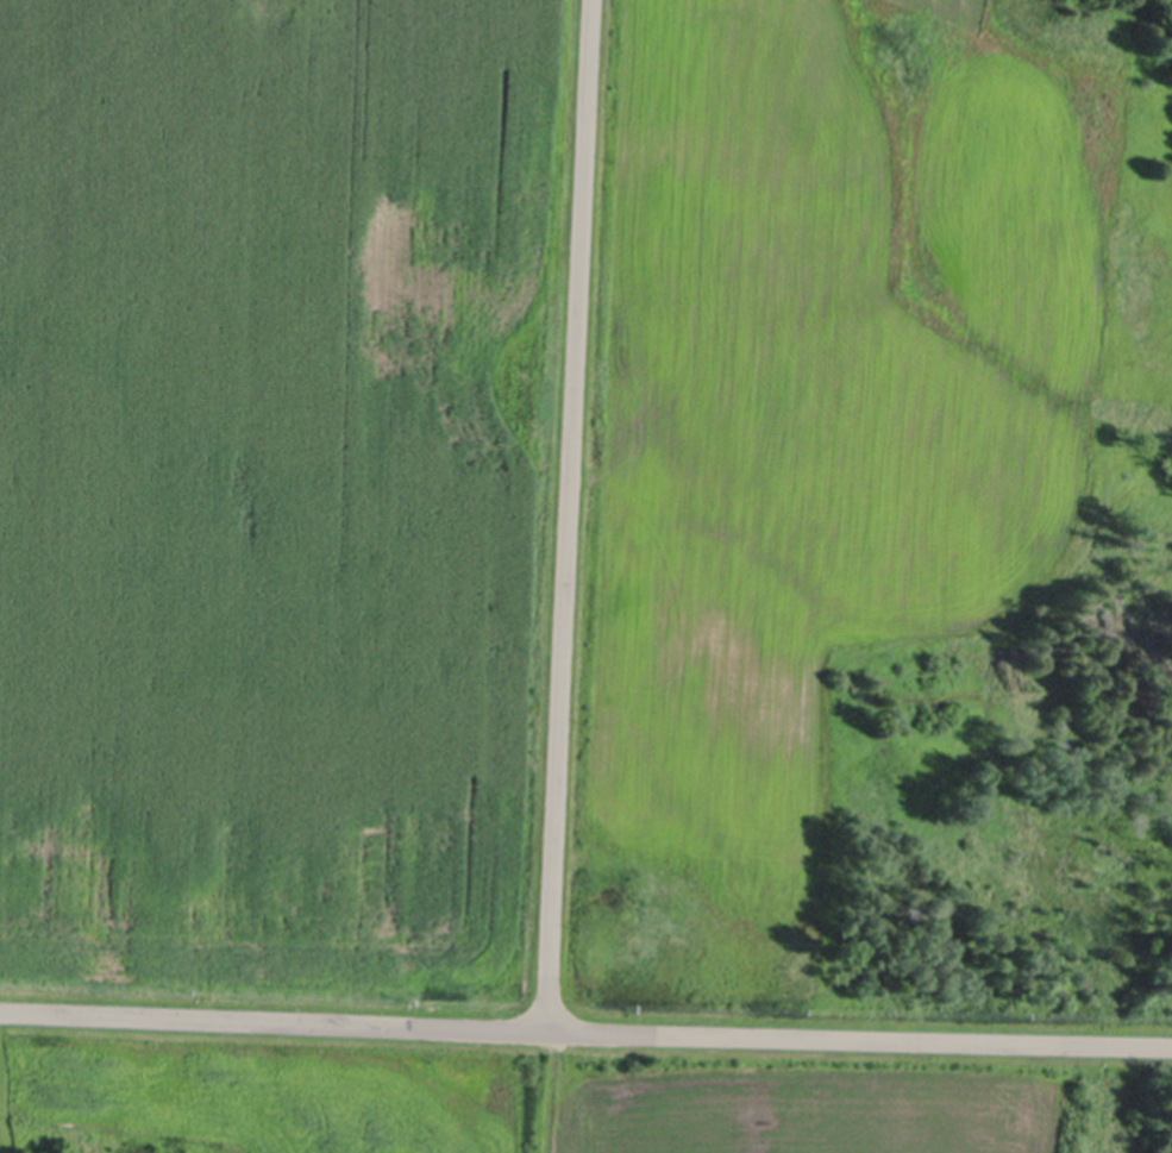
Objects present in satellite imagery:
road: (570, 514)
road: (585, 1029)

